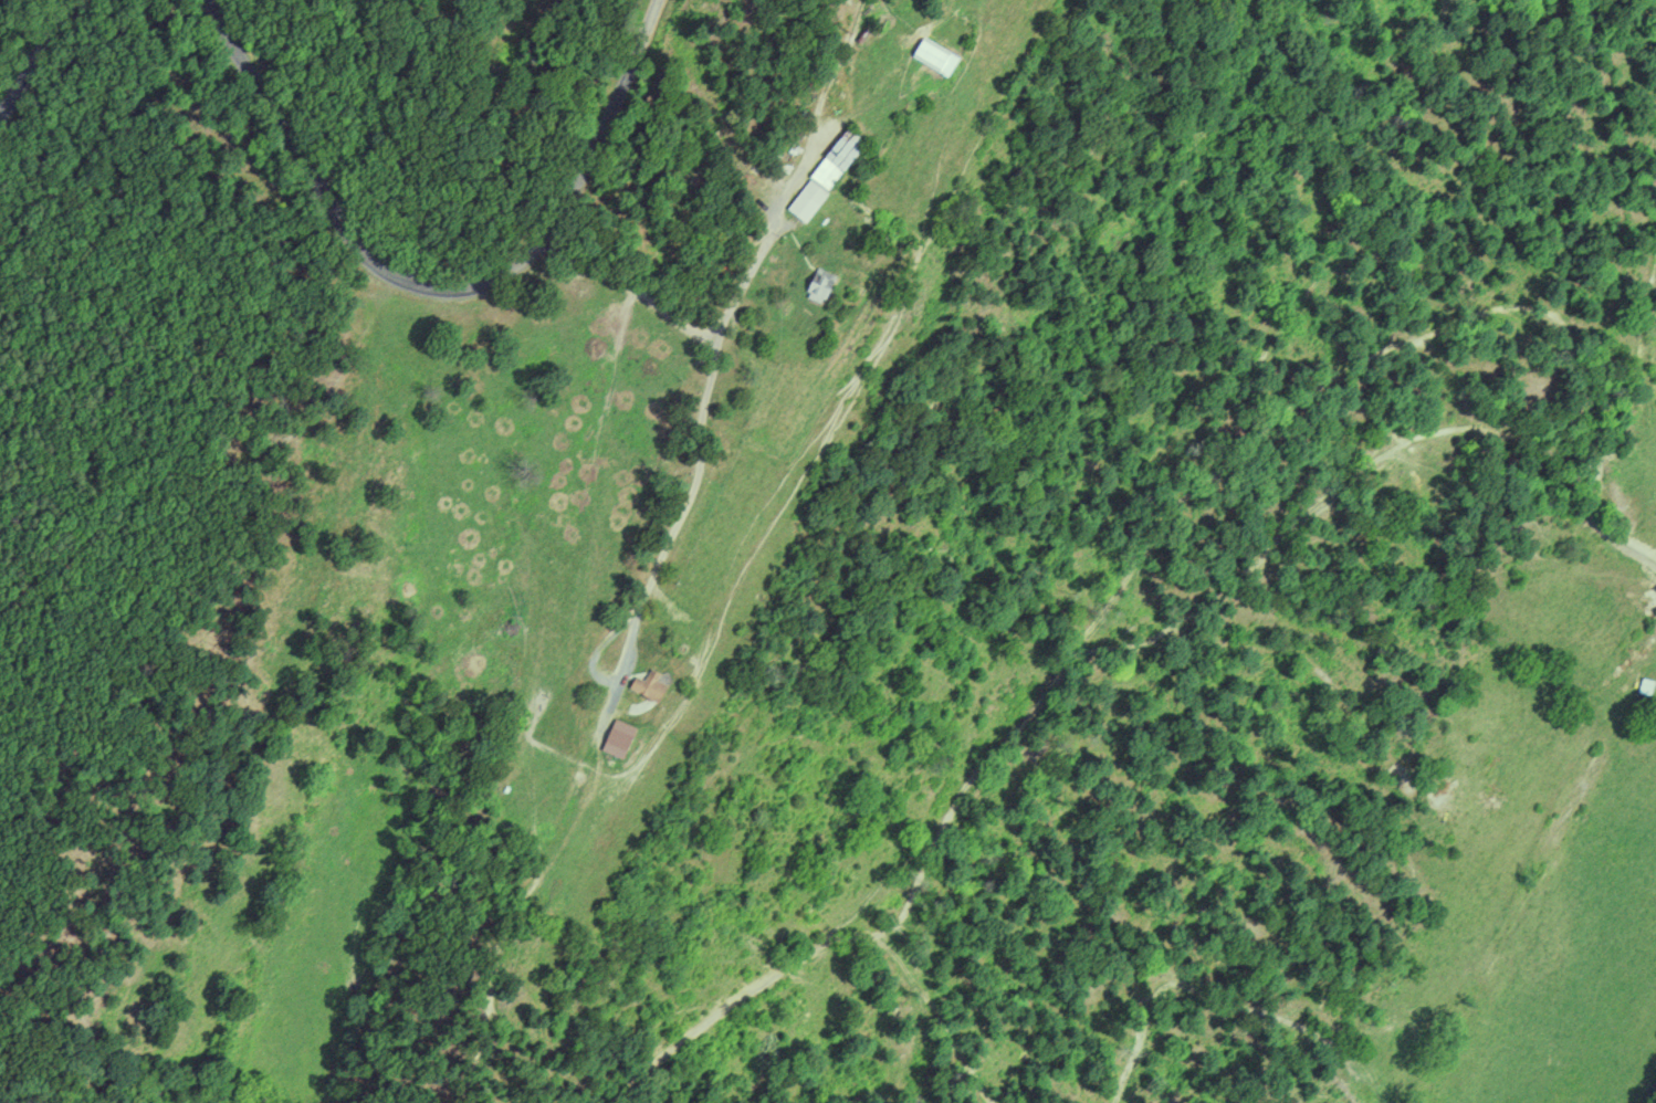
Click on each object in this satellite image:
building: (934, 56)
road: (35, 59)
road: (397, 143)
building: (826, 175)
road: (769, 238)
building: (818, 290)
road: (441, 291)
road: (701, 441)
building: (649, 685)

